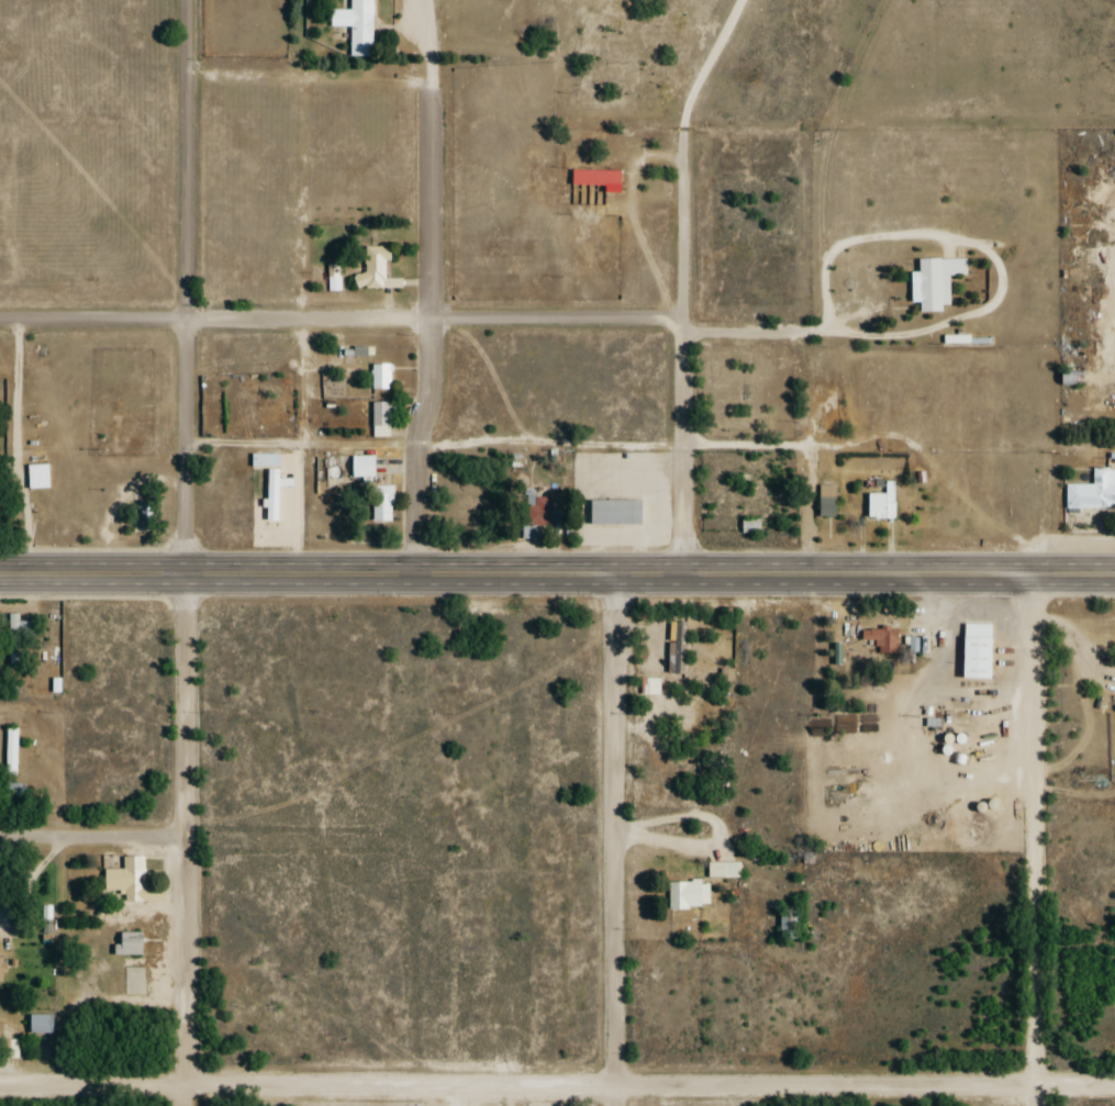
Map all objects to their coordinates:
building: (356, 26)
building: (375, 271)
building: (935, 283)
road: (187, 289)
road: (431, 290)
road: (413, 317)
road: (685, 327)
building: (380, 377)
building: (1070, 379)
building: (380, 418)
road: (20, 459)
building: (360, 467)
building: (1093, 492)
building: (827, 502)
building: (882, 504)
building: (381, 505)
building: (537, 511)
building: (615, 513)
building: (750, 527)
road: (557, 580)
building: (19, 637)
building: (879, 640)
building: (975, 650)
building: (959, 715)
building: (11, 751)
road: (93, 838)
road: (187, 842)
road: (615, 842)
road: (1034, 842)
building: (723, 870)
building: (129, 879)
building: (688, 894)
building: (788, 924)
building: (129, 943)
road: (63, 964)
building: (1, 969)
building: (40, 1023)
road: (557, 1088)

